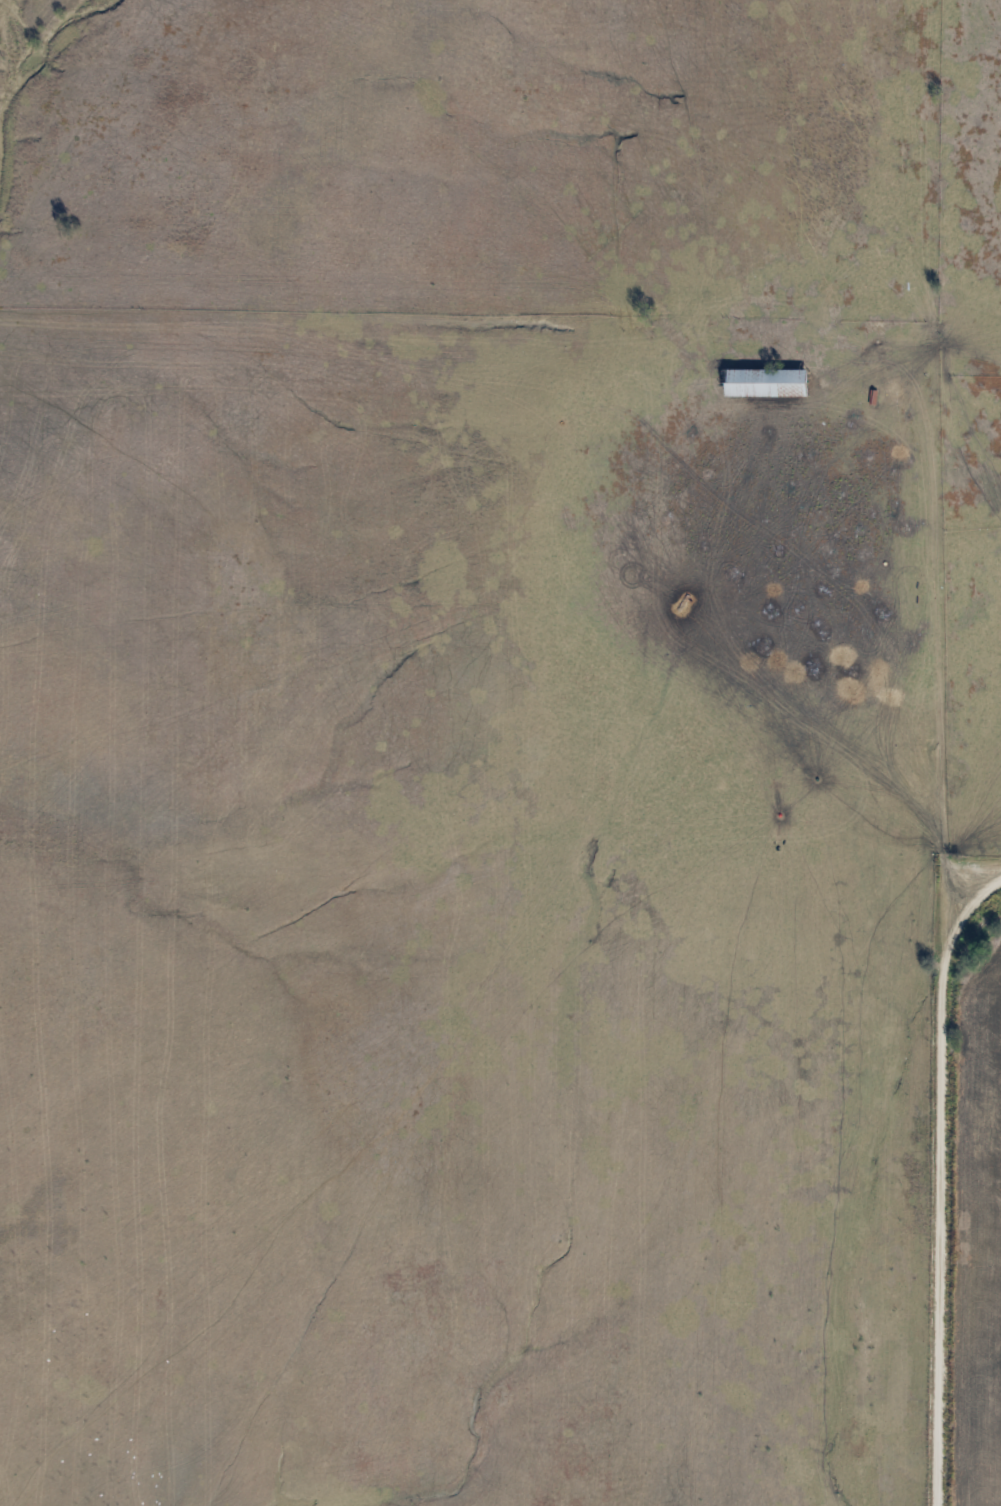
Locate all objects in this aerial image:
building: (763, 382)
road: (940, 1183)

